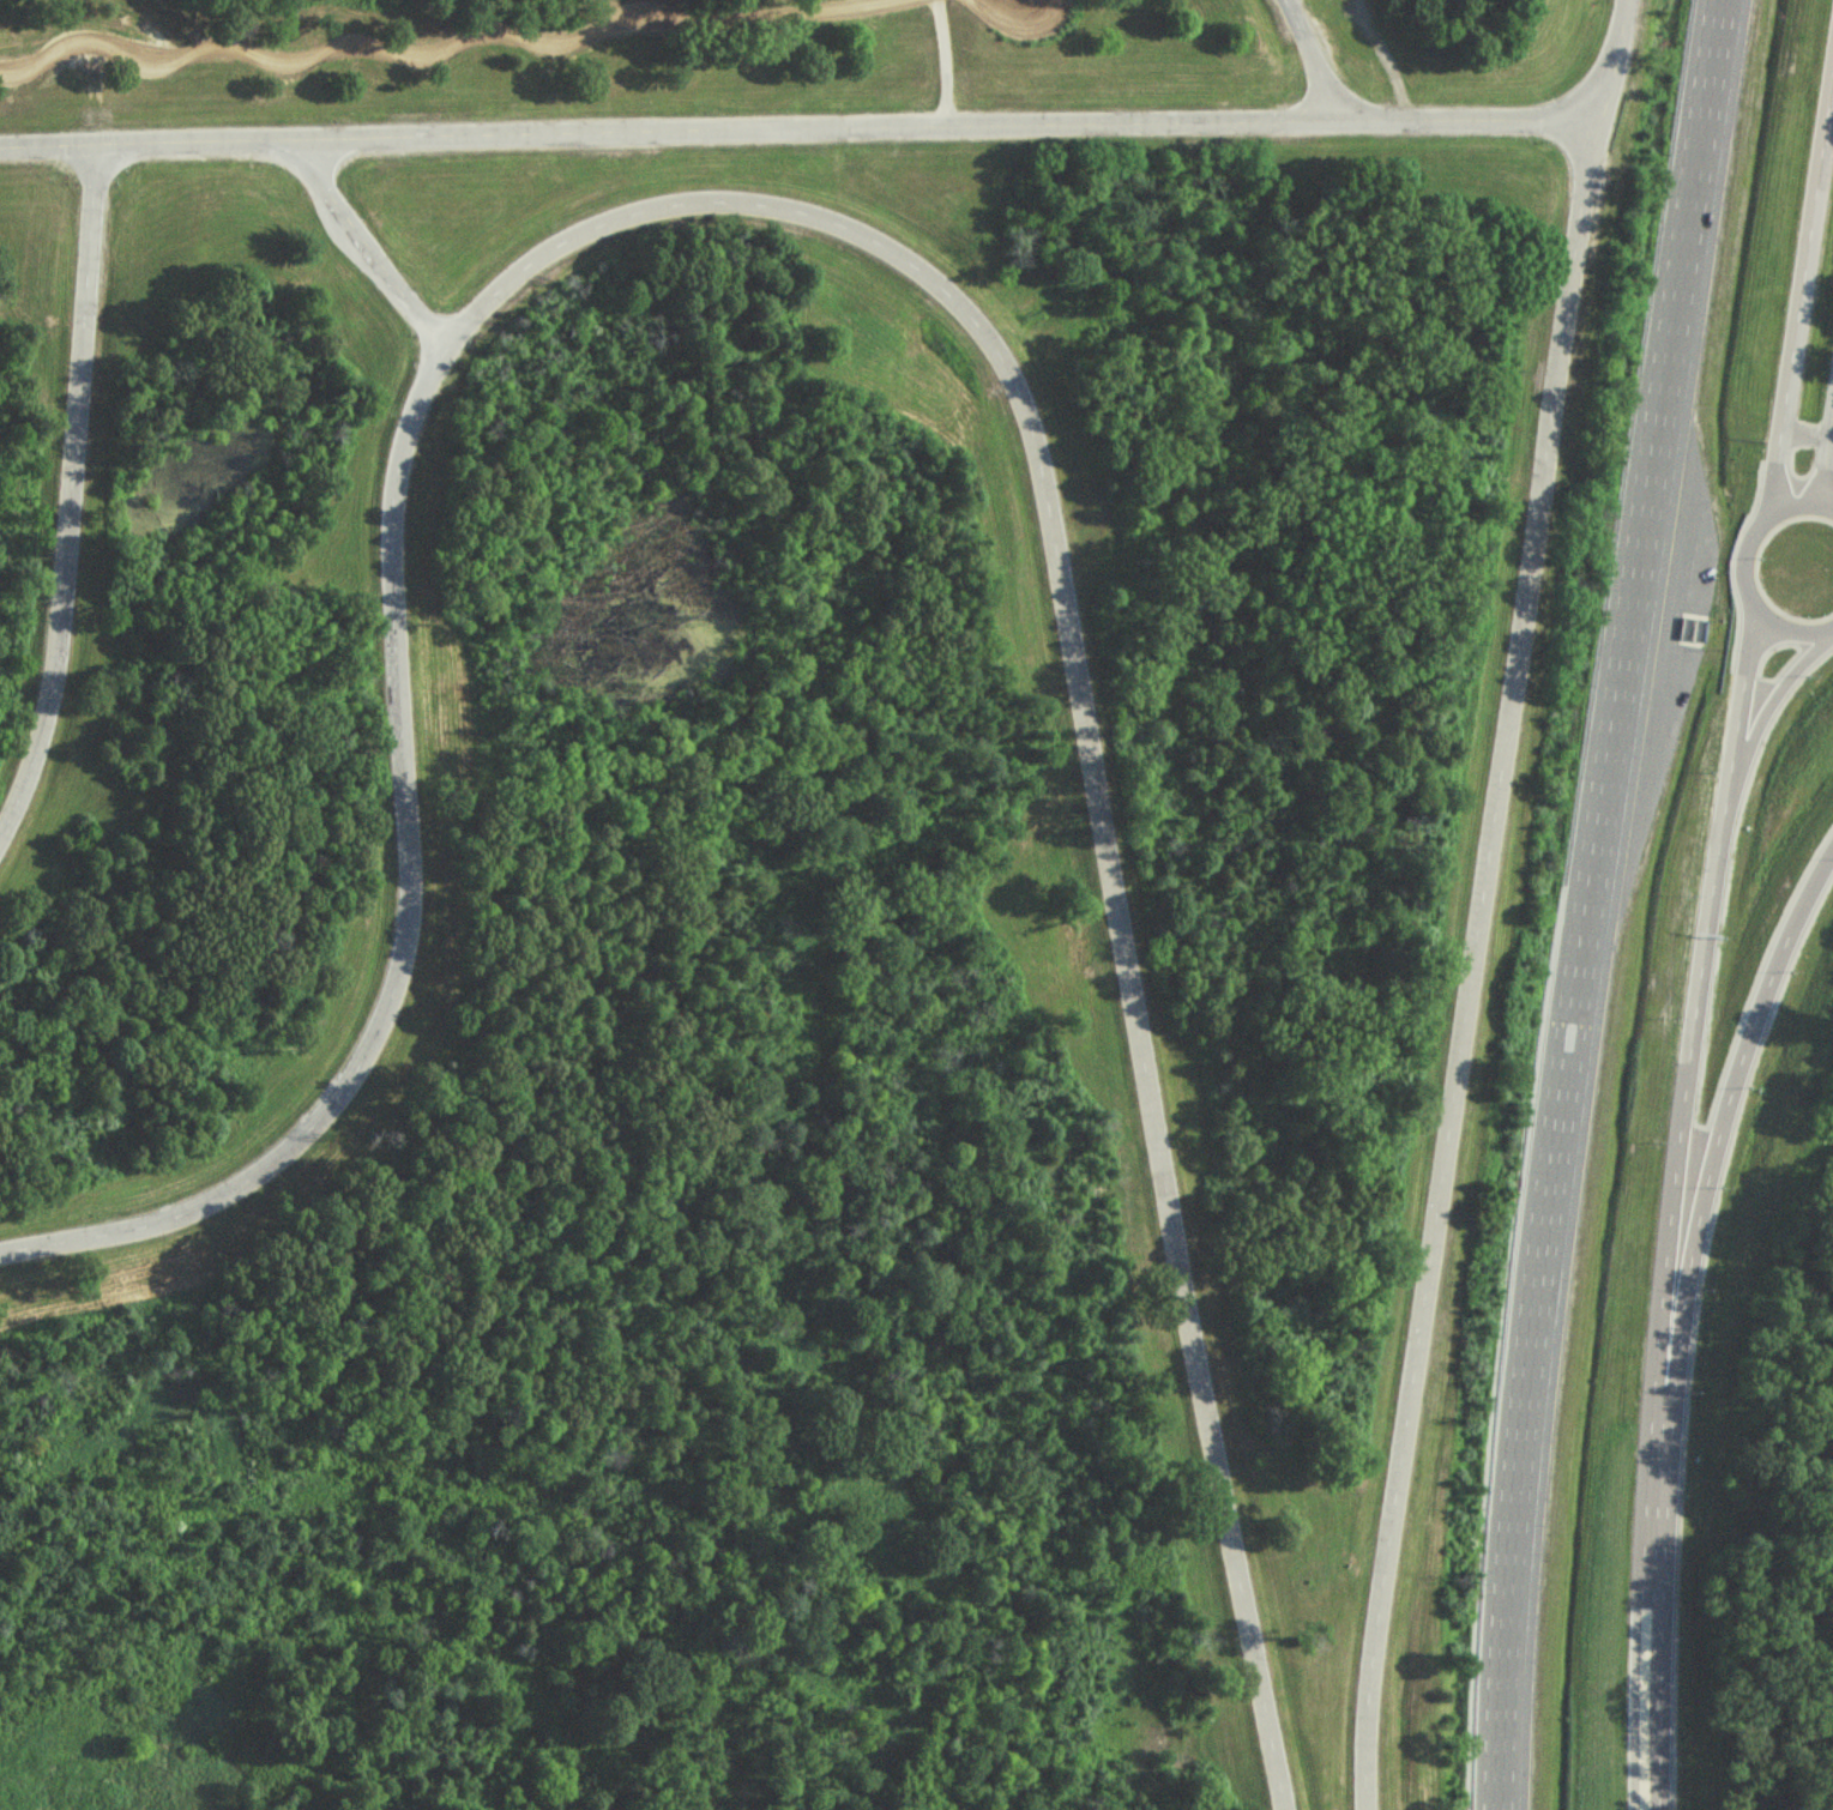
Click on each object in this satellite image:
road: (1021, 25)
road: (451, 42)
road: (1314, 62)
road: (943, 64)
road: (800, 131)
road: (369, 249)
raceway: (876, 249)
raceway: (68, 495)
road: (1821, 499)
road: (1796, 575)
raceway: (1477, 903)
raceway: (1603, 904)
raceway: (1712, 940)

